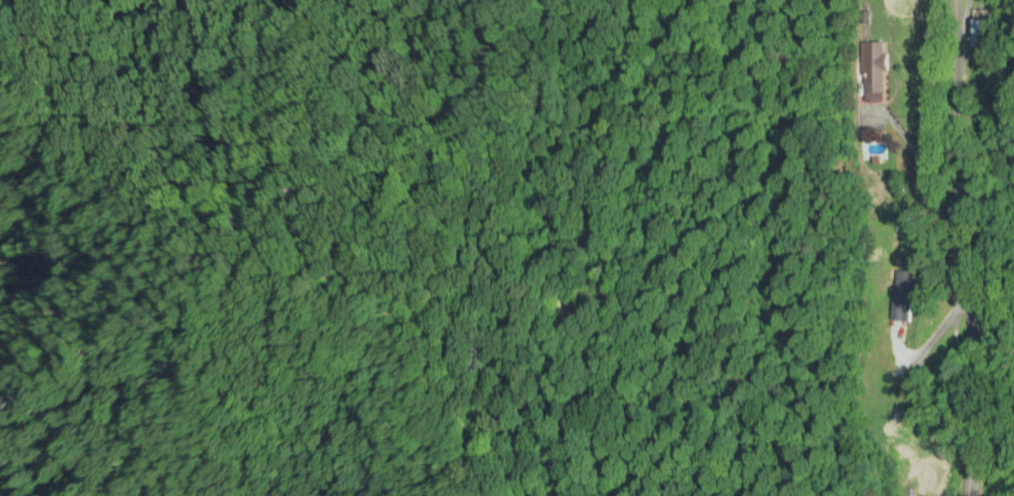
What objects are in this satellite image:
building: (980, 32)
building: (873, 71)
road: (960, 248)
building: (903, 296)
building: (913, 494)

